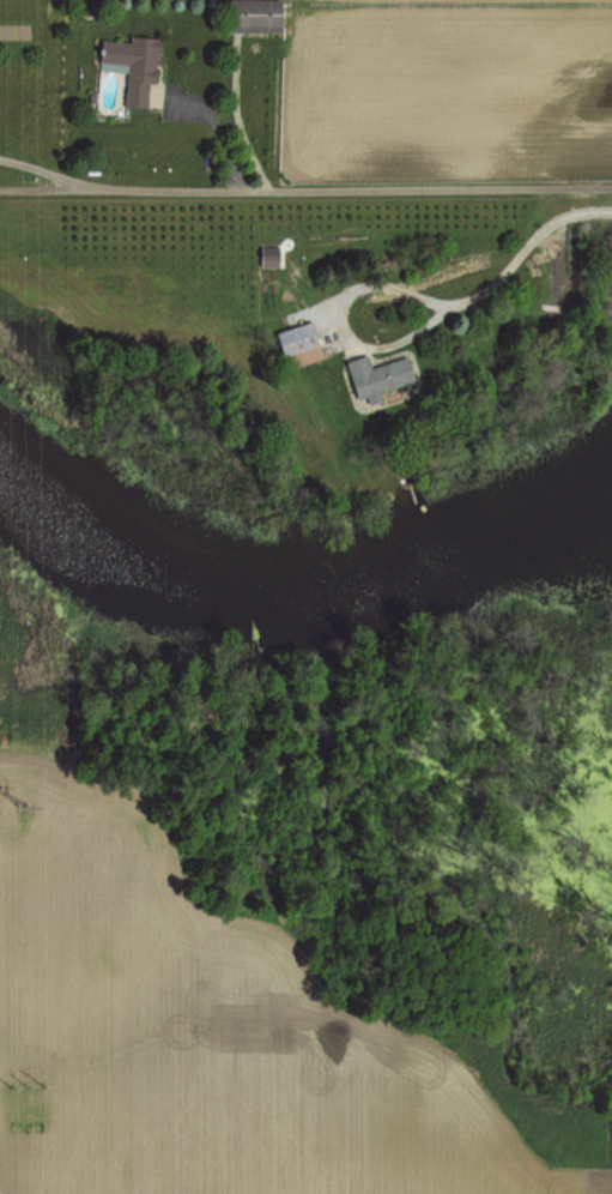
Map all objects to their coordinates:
building: (259, 16)
building: (137, 66)
road: (35, 171)
road: (305, 189)
road: (520, 245)
building: (302, 344)
road: (350, 346)
building: (381, 375)

